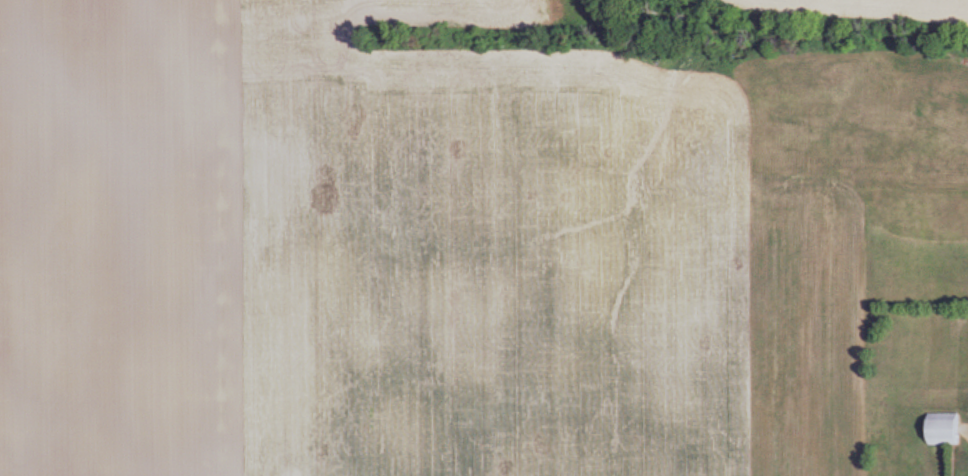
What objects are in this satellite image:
building: (939, 430)

